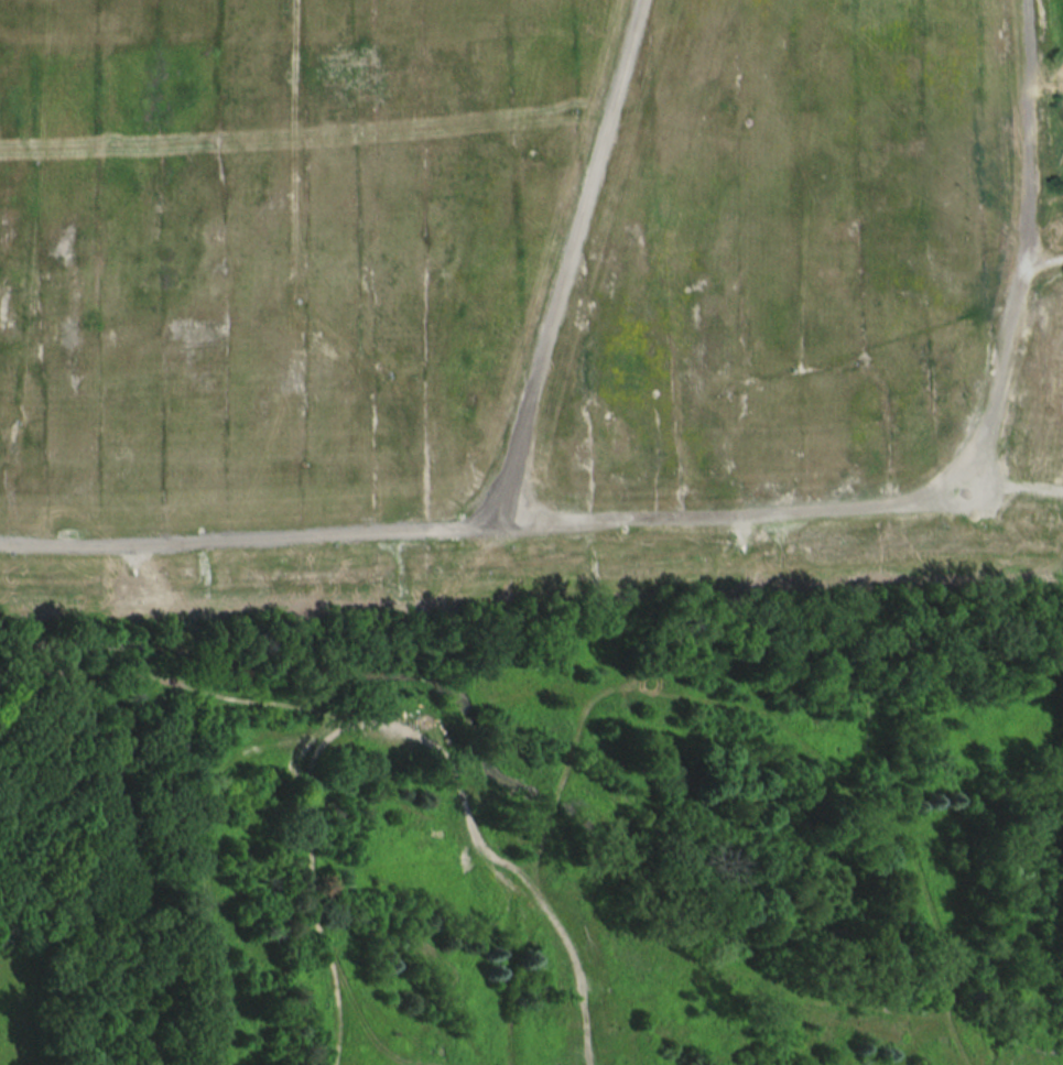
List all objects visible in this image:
road: (959, 474)
road: (493, 495)

